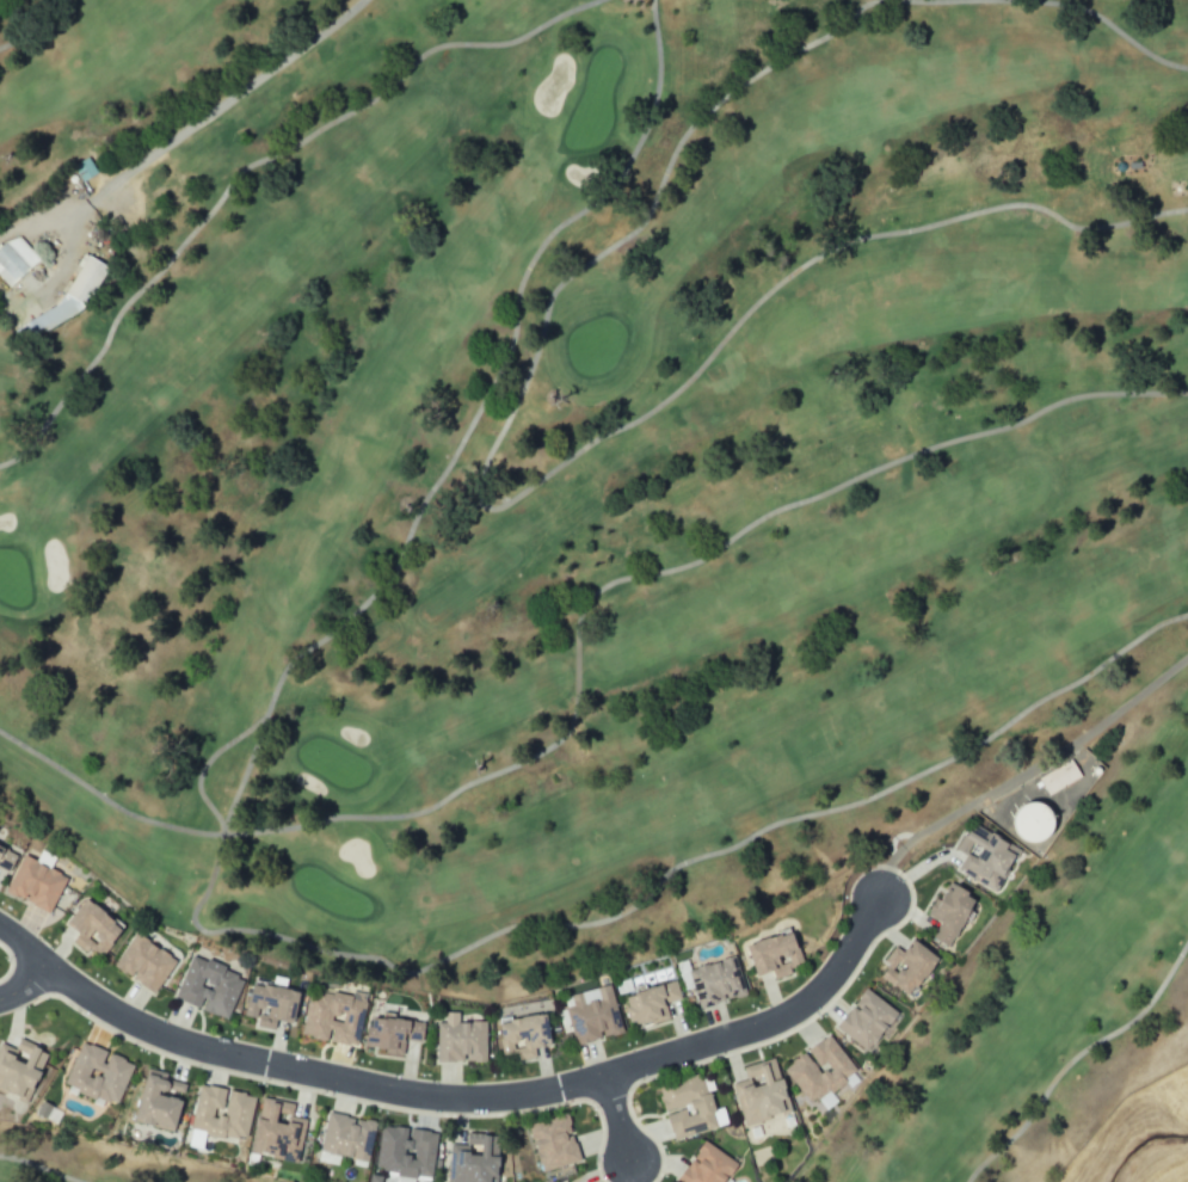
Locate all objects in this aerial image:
road: (214, 118)
building: (80, 170)
building: (12, 260)
building: (78, 283)
park: (615, 499)
road: (1018, 775)
building: (1063, 776)
building: (1046, 821)
building: (8, 857)
building: (990, 857)
building: (38, 884)
building: (956, 912)
building: (98, 928)
building: (782, 954)
building: (147, 962)
building: (915, 967)
building: (721, 981)
building: (211, 987)
road: (24, 995)
building: (655, 1003)
building: (596, 1014)
building: (336, 1017)
building: (870, 1021)
building: (396, 1034)
building: (528, 1035)
building: (464, 1040)
building: (21, 1069)
building: (823, 1070)
building: (101, 1075)
building: (764, 1092)
building: (165, 1101)
road: (455, 1108)
building: (693, 1108)
building: (226, 1113)
building: (283, 1131)
road: (620, 1131)
building: (351, 1138)
building: (558, 1143)
building: (408, 1151)
park: (70, 1165)
building: (710, 1165)
airport: (1186, 1180)

